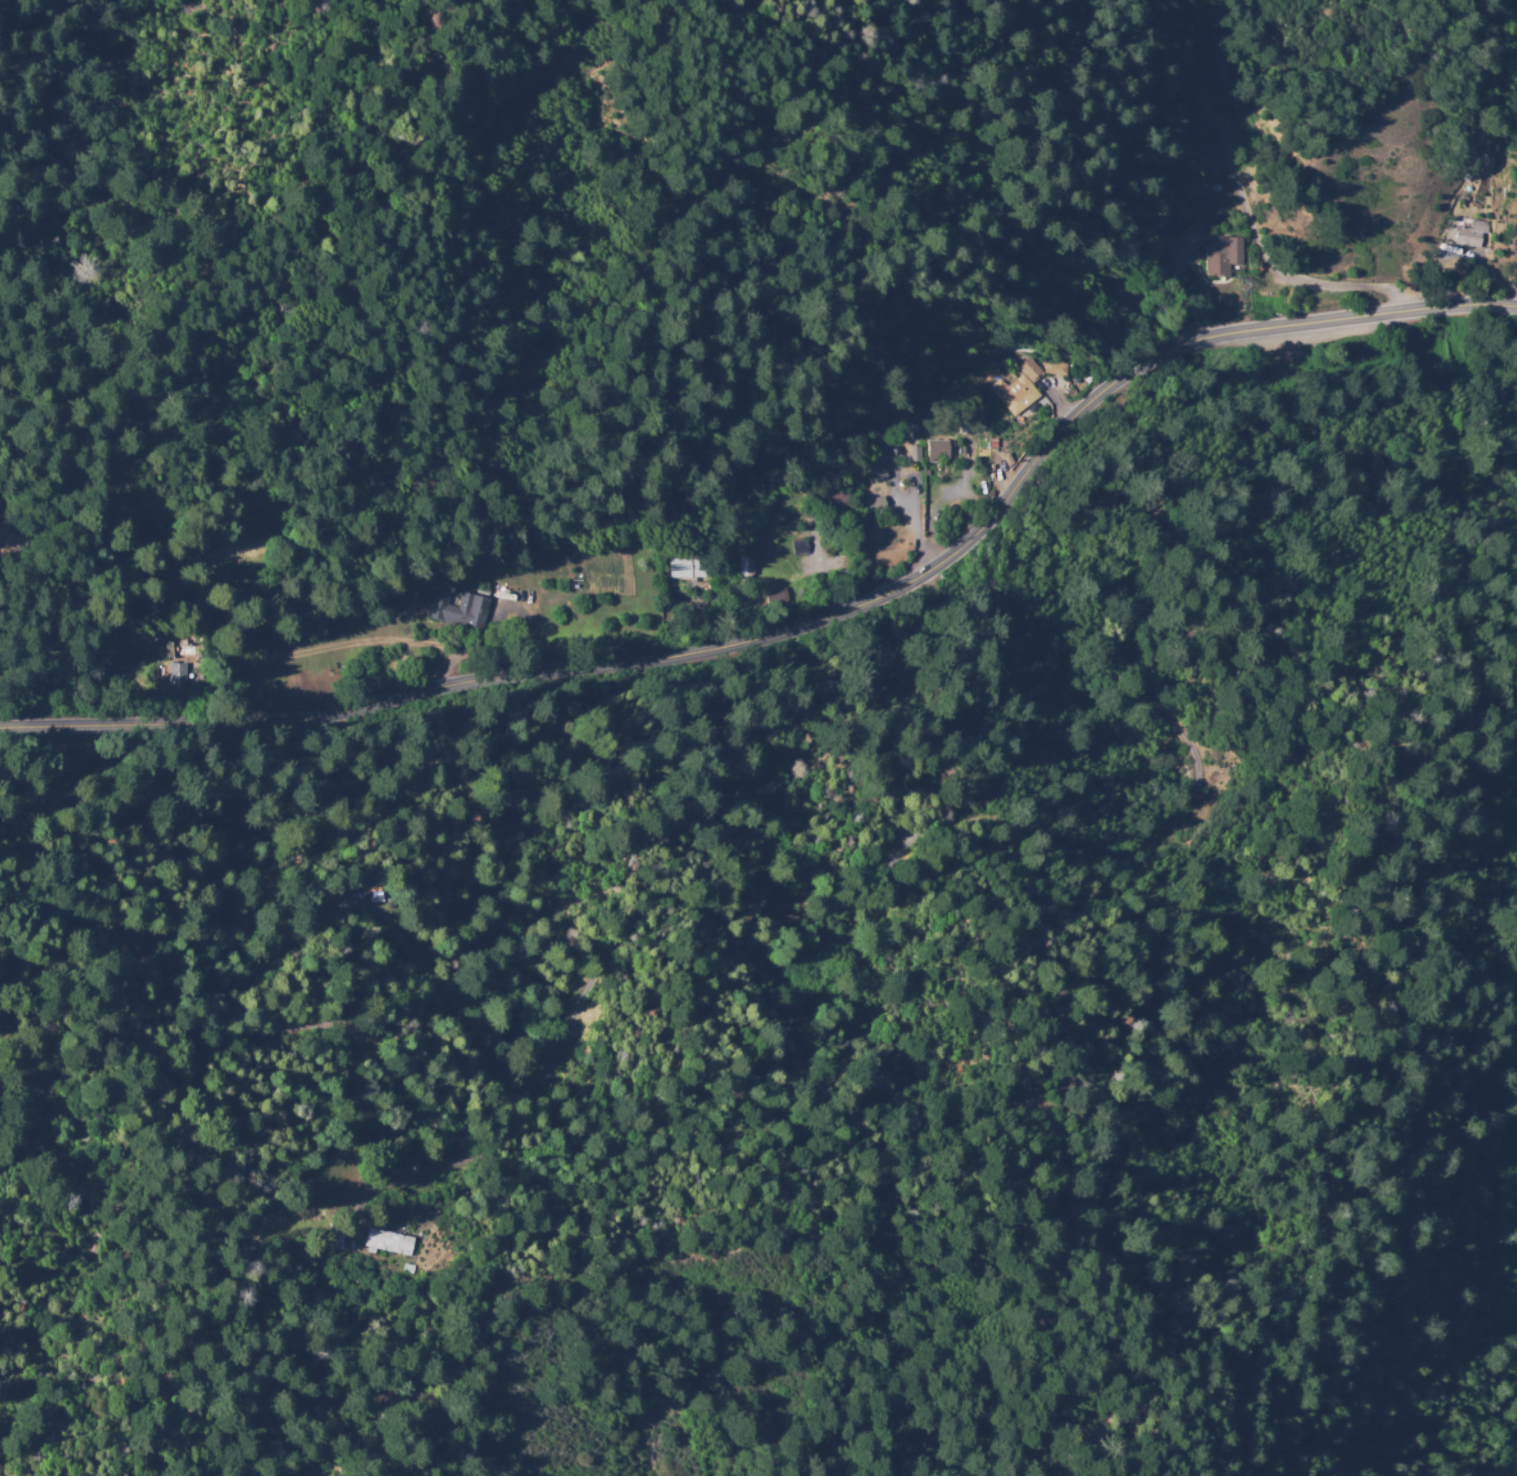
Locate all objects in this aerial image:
building: (1191, 5)
building: (1181, 227)
building: (1469, 234)
building: (1223, 257)
building: (1057, 369)
building: (1019, 389)
building: (916, 433)
building: (937, 451)
building: (876, 466)
building: (872, 502)
building: (14, 535)
building: (798, 547)
road: (242, 563)
building: (686, 568)
building: (742, 569)
building: (167, 590)
building: (776, 597)
building: (457, 609)
road: (806, 623)
building: (181, 649)
building: (175, 681)
building: (1, 1092)
building: (329, 1240)
building: (387, 1242)

